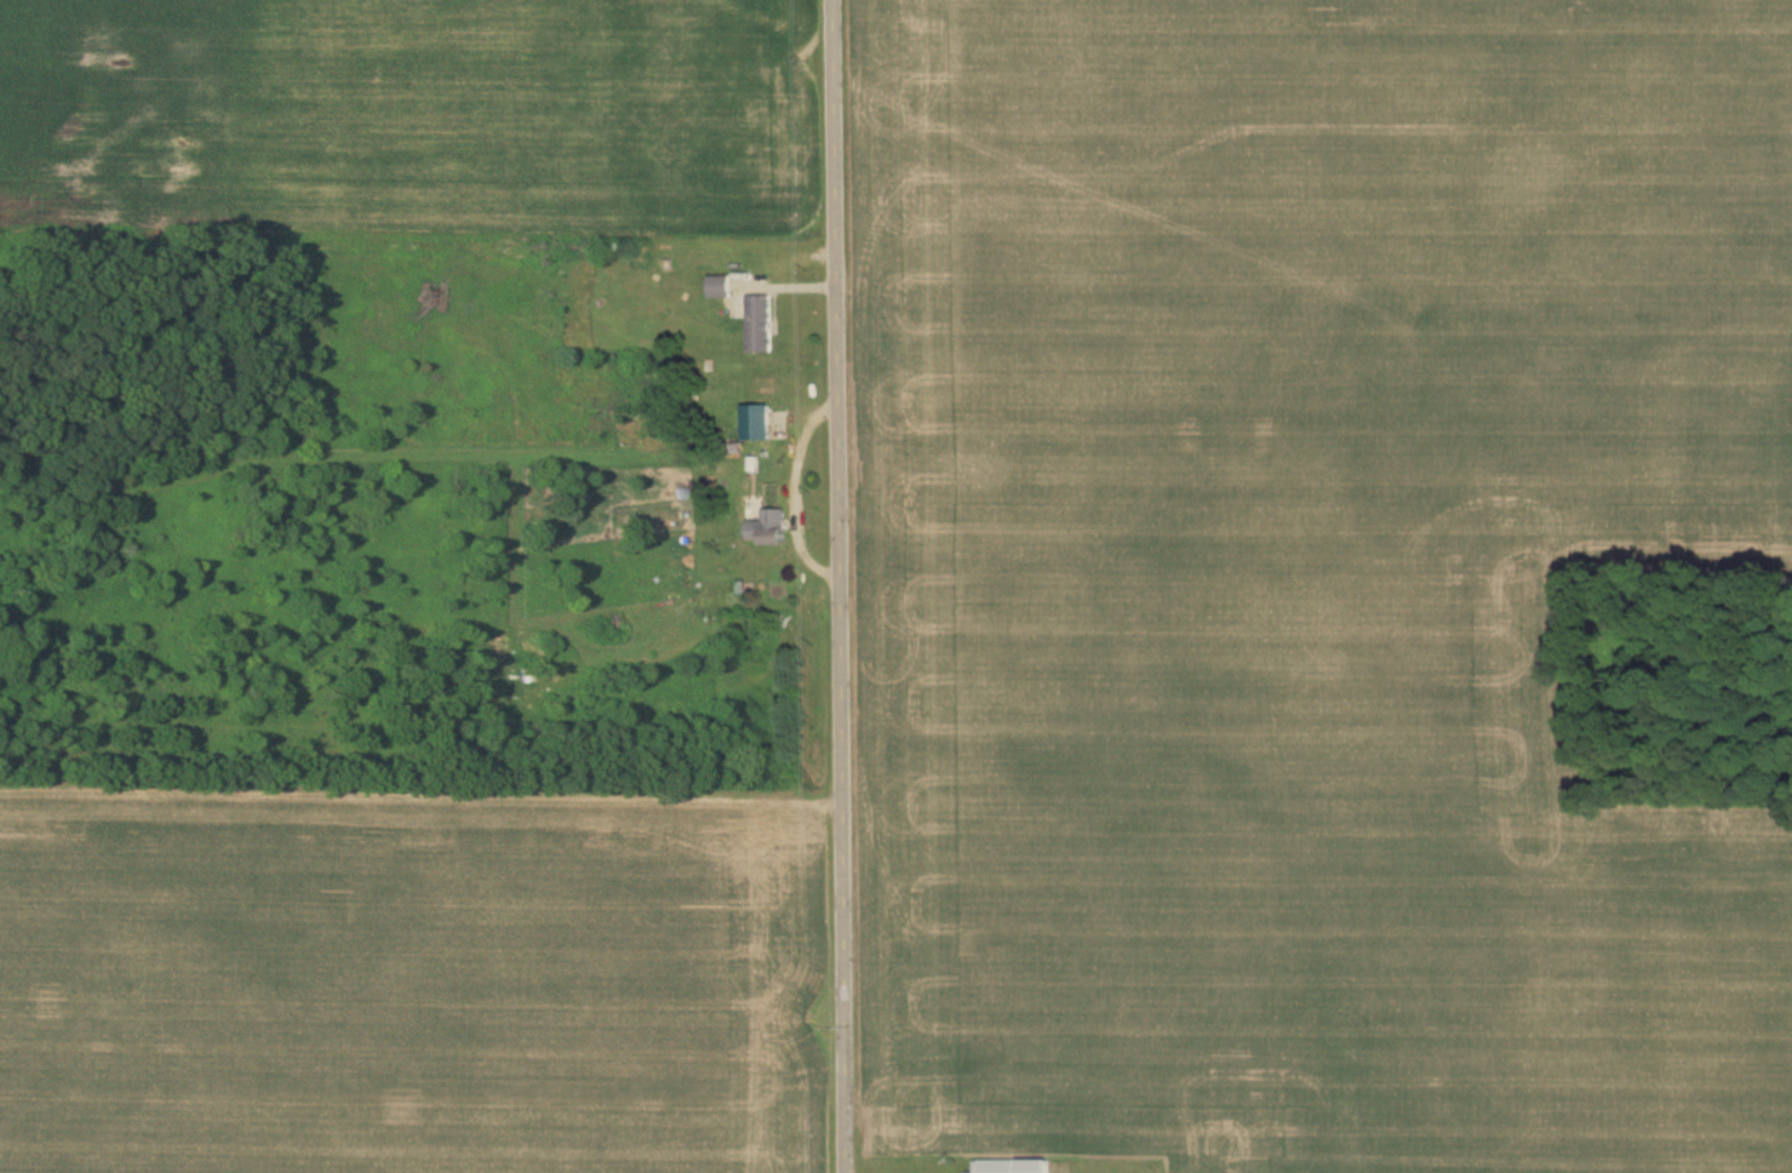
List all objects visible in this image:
crop: (533, 115)
building: (718, 288)
building: (758, 325)
building: (755, 424)
building: (768, 530)
crop: (1309, 578)
road: (837, 586)
crop: (412, 979)
building: (1012, 1167)

